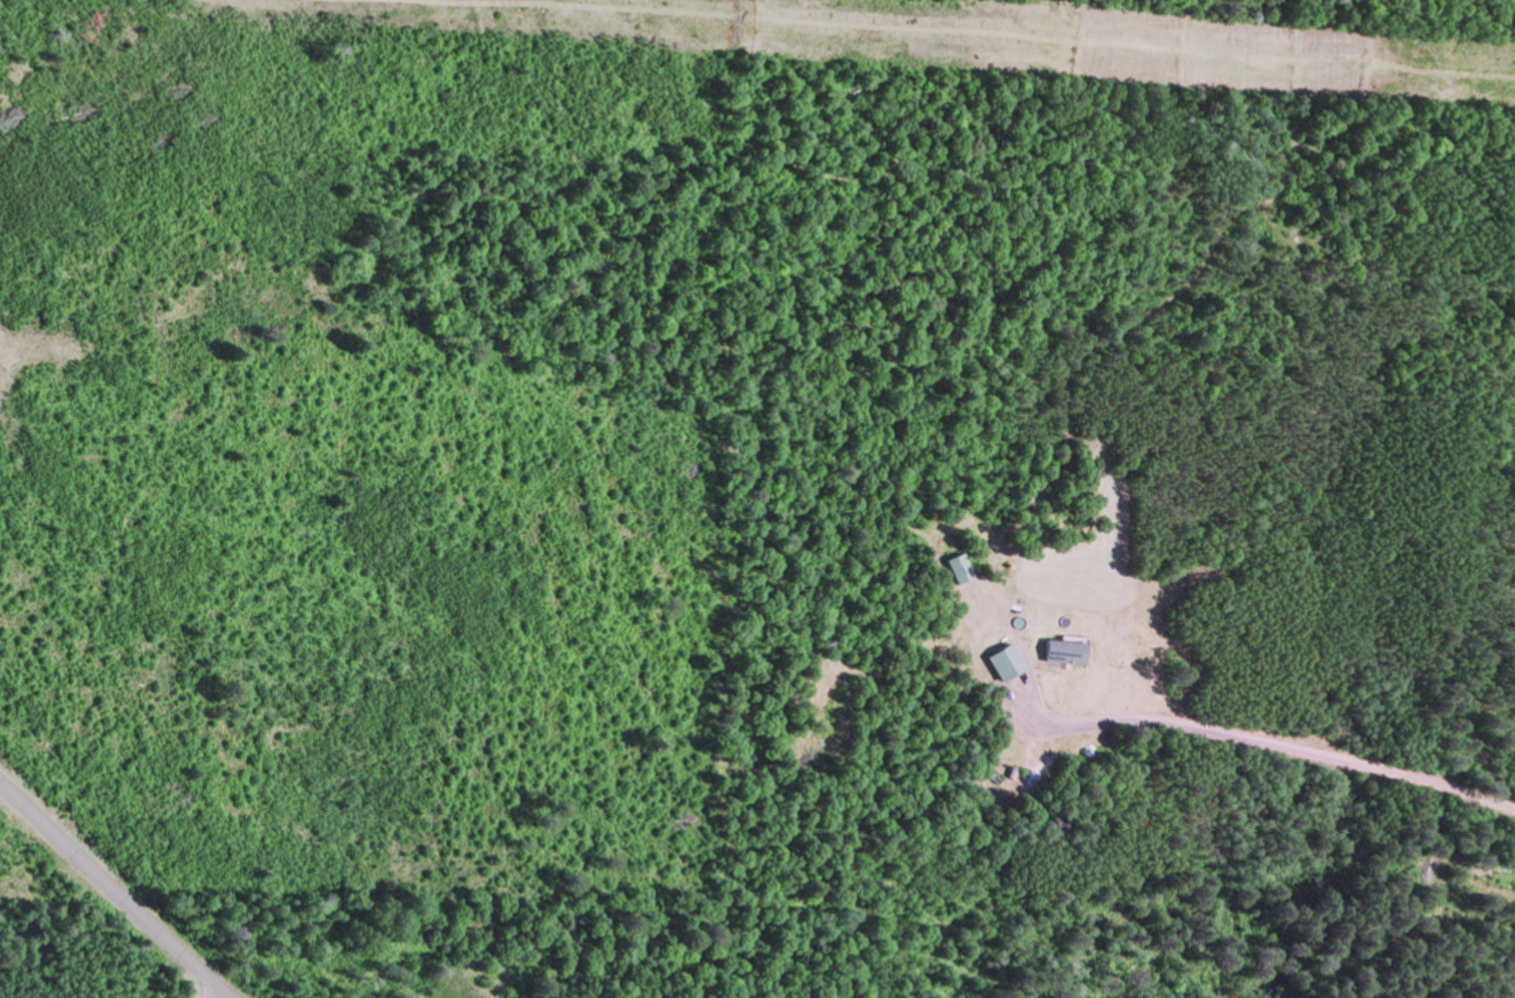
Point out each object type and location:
road: (963, 32)
building: (954, 569)
building: (1059, 651)
building: (1000, 663)
road: (1283, 748)
building: (1005, 771)
building: (1015, 777)
building: (989, 779)
building: (1497, 870)
road: (114, 890)
road: (213, 993)

